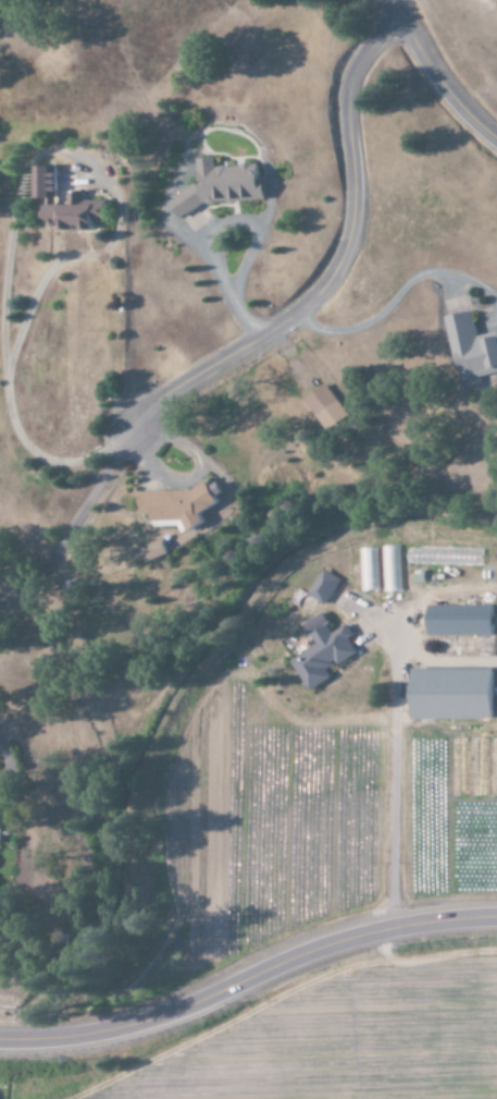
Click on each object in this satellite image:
road: (434, 78)
building: (222, 186)
building: (72, 204)
road: (337, 266)
building: (472, 346)
building: (328, 407)
building: (182, 504)
road: (72, 525)
building: (158, 551)
building: (370, 570)
building: (392, 570)
building: (325, 587)
building: (462, 621)
building: (326, 656)
building: (456, 694)
building: (2, 831)
road: (247, 976)
crop: (344, 1045)

